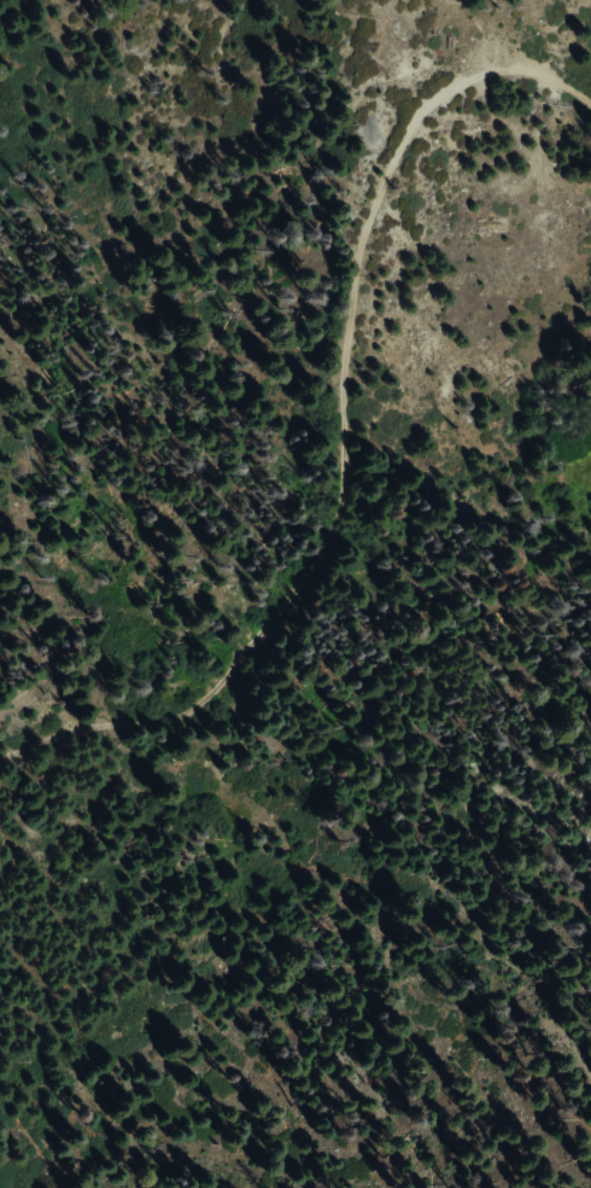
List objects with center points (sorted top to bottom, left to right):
road: (350, 421)

